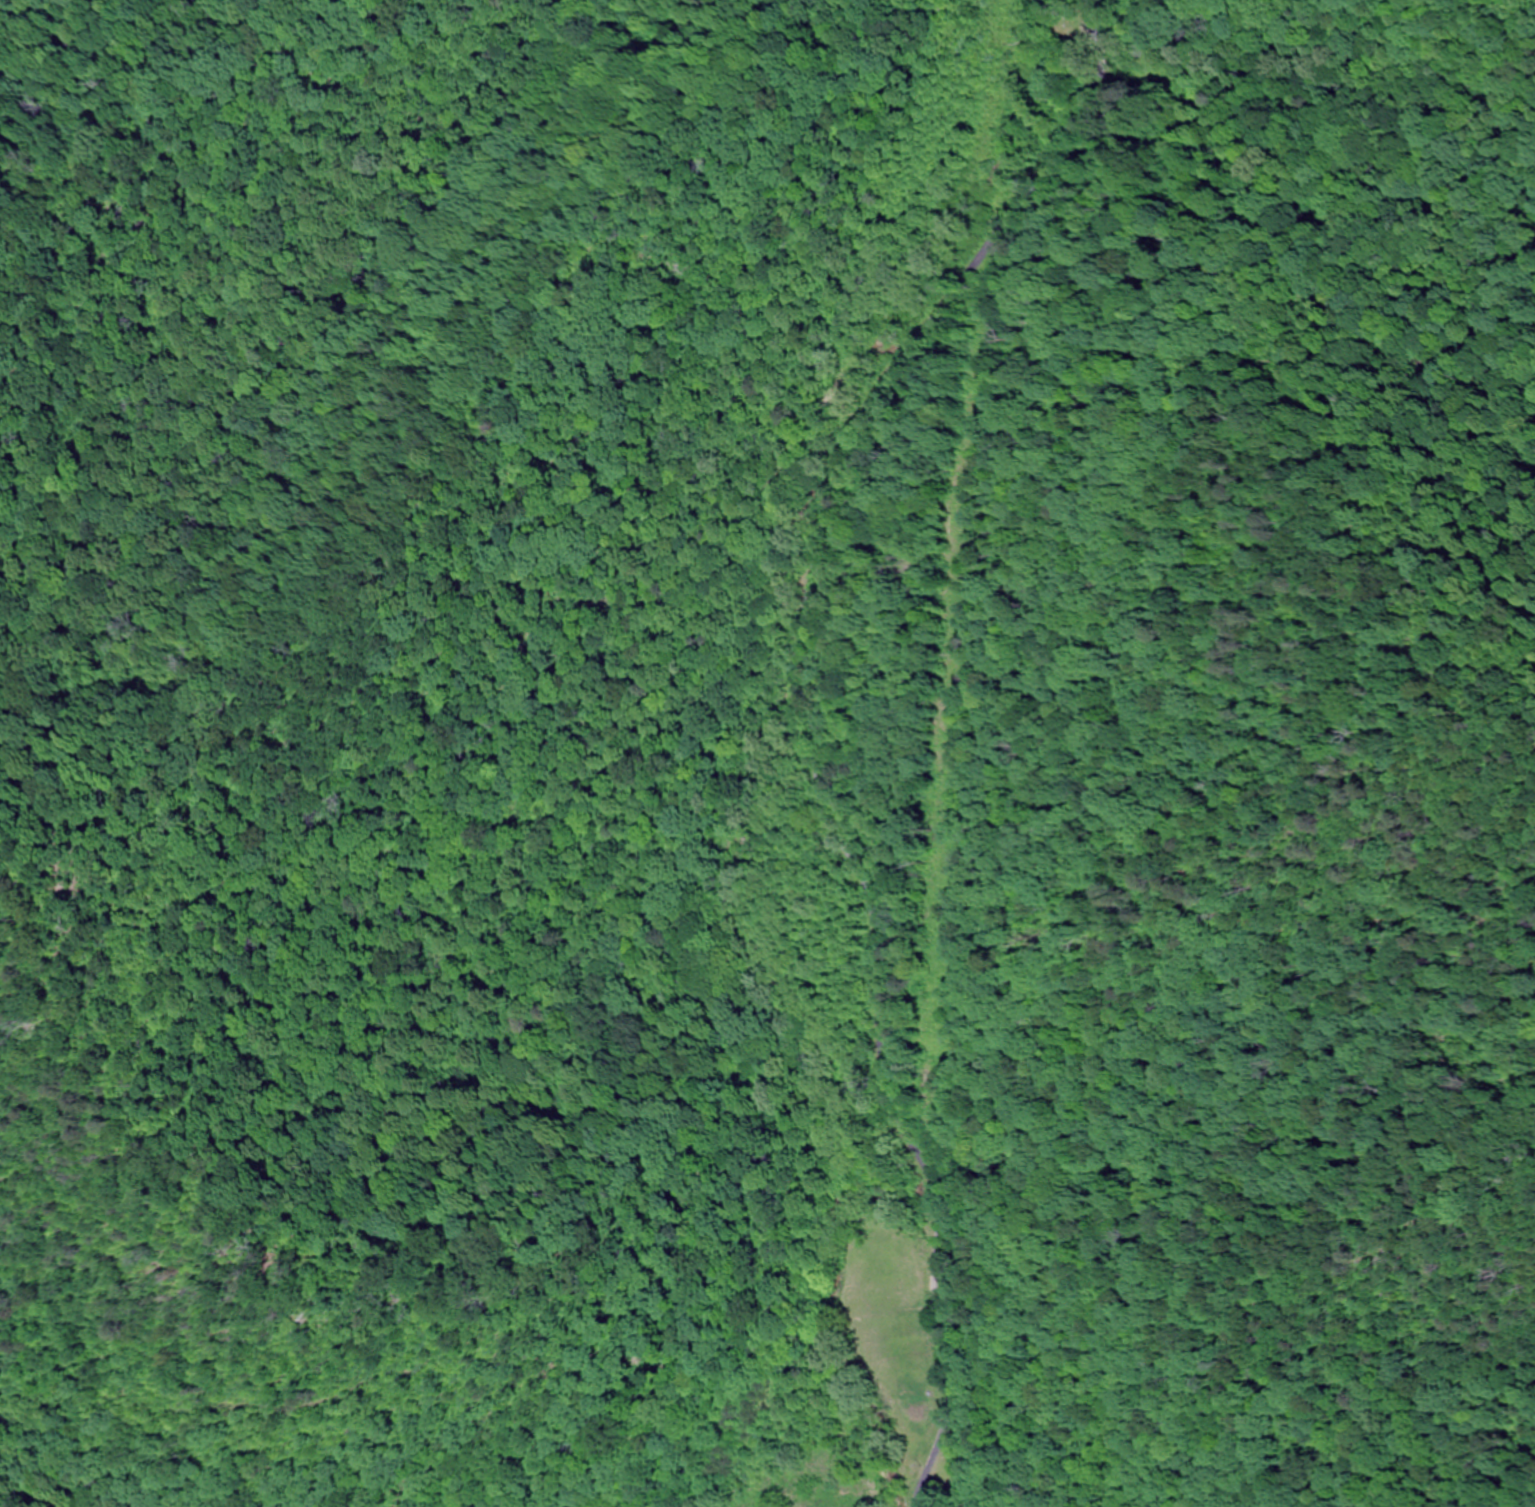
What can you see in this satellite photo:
road: (834, 719)

